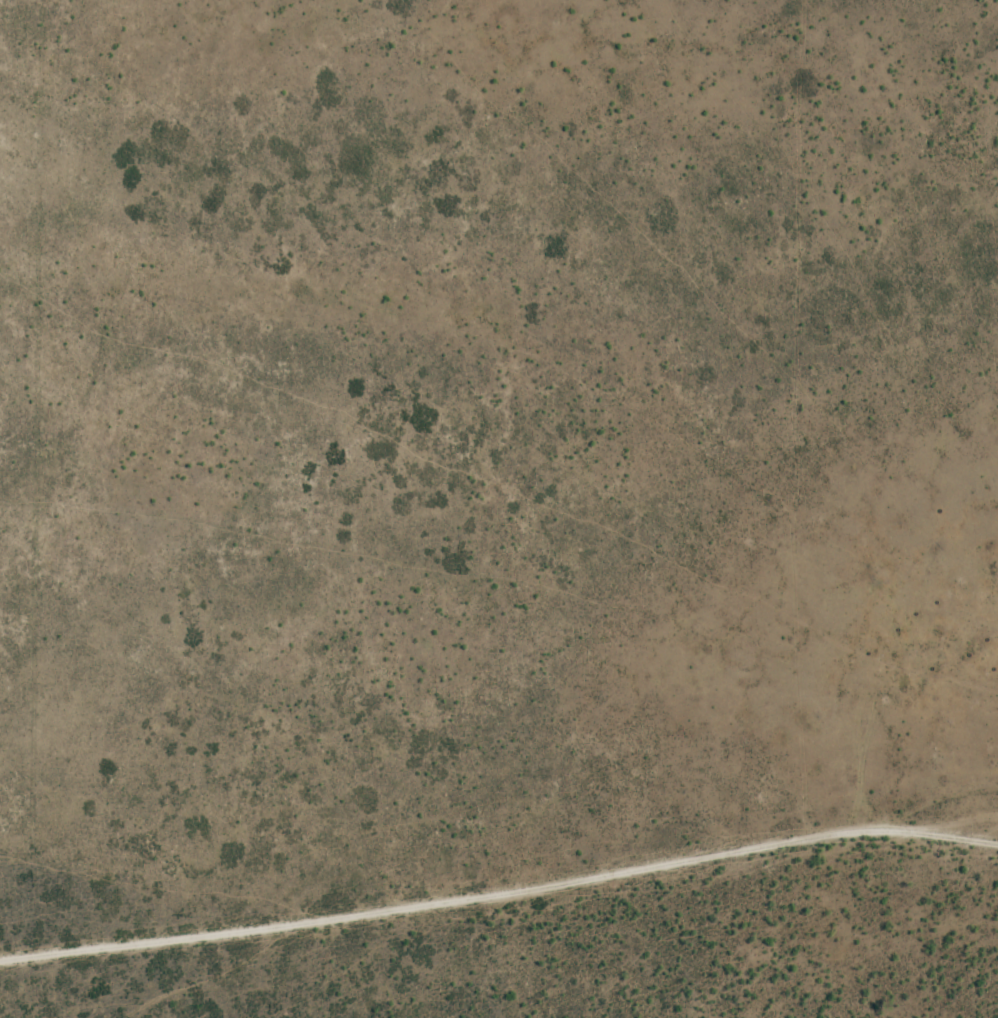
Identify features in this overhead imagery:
road: (499, 898)

